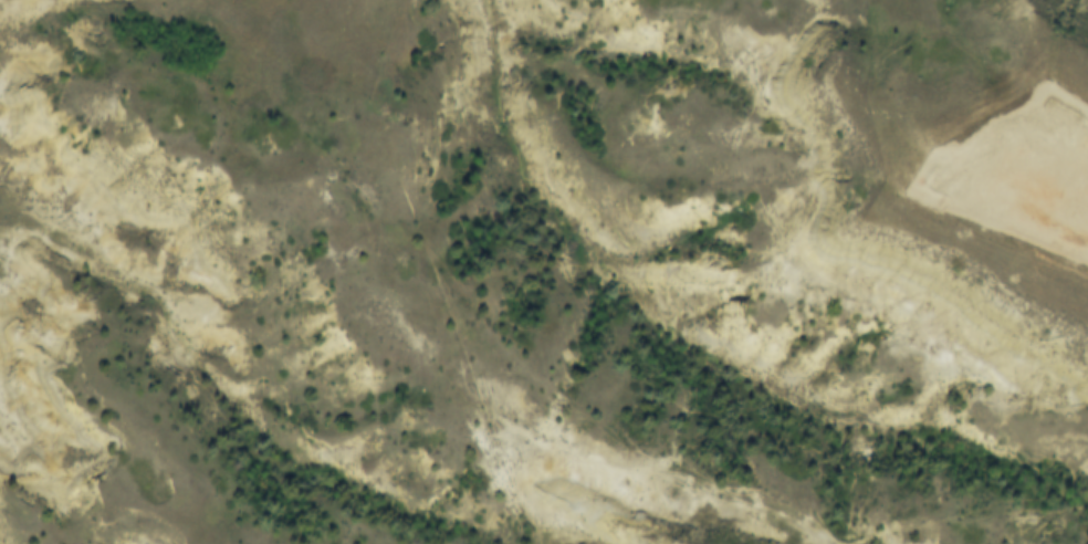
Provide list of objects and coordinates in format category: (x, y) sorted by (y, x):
road: (1048, 163)
petroleum well: (1079, 210)

